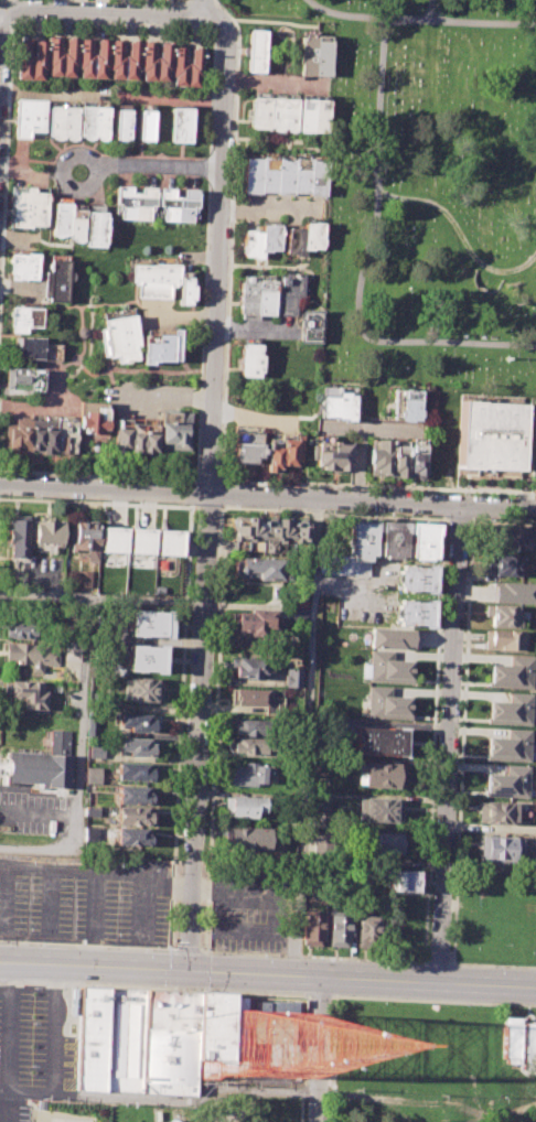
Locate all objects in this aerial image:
road: (204, 8)
road: (432, 10)
road: (109, 11)
road: (1, 18)
road: (420, 20)
street lamp: (107, 21)
street lamp: (14, 23)
building: (255, 51)
building: (62, 55)
building: (313, 55)
building: (93, 56)
building: (30, 57)
building: (124, 58)
building: (156, 61)
building: (185, 66)
road: (275, 83)
building: (272, 114)
building: (28, 115)
building: (312, 115)
building: (62, 120)
building: (93, 120)
building: (121, 121)
building: (146, 122)
building: (180, 122)
street lamp: (8, 136)
road: (150, 168)
building: (282, 175)
park: (428, 190)
building: (135, 201)
building: (176, 203)
building: (28, 205)
road: (270, 212)
building: (67, 219)
building: (95, 227)
road: (461, 234)
building: (303, 238)
building: (260, 240)
street lamp: (3, 252)
road: (219, 256)
road: (362, 261)
building: (22, 265)
building: (56, 278)
building: (153, 279)
building: (186, 288)
building: (288, 291)
building: (266, 293)
building: (246, 294)
building: (24, 319)
building: (308, 325)
road: (253, 330)
building: (119, 336)
building: (161, 346)
building: (36, 349)
building: (248, 360)
building: (24, 379)
road: (168, 395)
building: (337, 403)
building: (406, 403)
building: (93, 418)
road: (372, 429)
building: (174, 430)
building: (42, 434)
building: (136, 435)
building: (490, 439)
building: (246, 443)
building: (285, 451)
building: (331, 454)
building: (417, 457)
building: (387, 458)
road: (360, 464)
street lamp: (227, 478)
street lamp: (368, 488)
street lamp: (483, 494)
road: (268, 496)
road: (97, 500)
road: (207, 506)
street lamp: (294, 509)
street lamp: (194, 510)
road: (333, 515)
road: (458, 519)
street lamp: (533, 519)
road: (502, 521)
street lamp: (446, 522)
building: (270, 530)
building: (47, 532)
building: (19, 536)
building: (85, 538)
building: (361, 538)
building: (514, 538)
building: (392, 539)
building: (112, 540)
building: (141, 540)
building: (421, 541)
building: (168, 542)
building: (505, 563)
street lamp: (467, 564)
building: (261, 565)
street lamp: (217, 569)
building: (81, 578)
building: (417, 579)
building: (515, 590)
road: (44, 595)
building: (298, 595)
building: (415, 612)
building: (298, 615)
building: (505, 615)
street lamp: (189, 621)
building: (254, 622)
building: (150, 624)
street lamp: (441, 625)
building: (19, 630)
building: (392, 636)
building: (504, 639)
building: (72, 650)
building: (30, 656)
building: (146, 658)
building: (251, 668)
building: (388, 668)
building: (513, 673)
building: (292, 678)
street lamp: (462, 684)
building: (143, 689)
street lamp: (212, 689)
building: (29, 693)
building: (250, 697)
road: (83, 701)
building: (386, 703)
building: (512, 710)
building: (137, 722)
building: (92, 726)
street lamp: (183, 727)
building: (249, 727)
road: (199, 732)
road: (304, 736)
street lamp: (437, 737)
building: (380, 742)
road: (447, 743)
building: (135, 745)
building: (249, 745)
building: (508, 746)
building: (95, 751)
building: (42, 762)
building: (133, 772)
building: (249, 774)
building: (382, 775)
building: (508, 783)
street lamp: (207, 785)
street lamp: (457, 785)
building: (136, 796)
building: (243, 807)
building: (379, 810)
building: (93, 811)
building: (496, 812)
parking lot: (34, 813)
building: (132, 816)
building: (319, 816)
building: (90, 832)
building: (131, 837)
building: (247, 838)
street lamp: (179, 839)
building: (322, 842)
building: (392, 842)
street lamp: (432, 846)
building: (501, 848)
road: (97, 872)
street lamp: (179, 872)
street lamp: (203, 874)
building: (405, 881)
parking lot: (84, 900)
parking lot: (256, 909)
street lamp: (451, 915)
road: (93, 918)
building: (367, 928)
building: (312, 929)
building: (337, 930)
road: (17, 931)
street lamp: (174, 941)
street lamp: (201, 942)
street lamp: (43, 943)
road: (87, 943)
street lamp: (427, 948)
street lamp: (147, 949)
road: (186, 949)
street lamp: (269, 954)
street lamp: (265, 956)
road: (311, 956)
street lamp: (358, 960)
street lamp: (379, 961)
road: (436, 962)
road: (492, 964)
street lamp: (493, 965)
street lamp: (496, 967)
traffic signals: (189, 971)
road: (268, 974)
street lamp: (34, 986)
road: (154, 988)
road: (320, 995)
street lamp: (310, 1000)
road: (433, 1000)
building: (148, 1038)
building: (511, 1039)
road: (10, 1042)
building: (528, 1042)
parking lot: (33, 1046)
road: (319, 1049)
road: (54, 1050)

